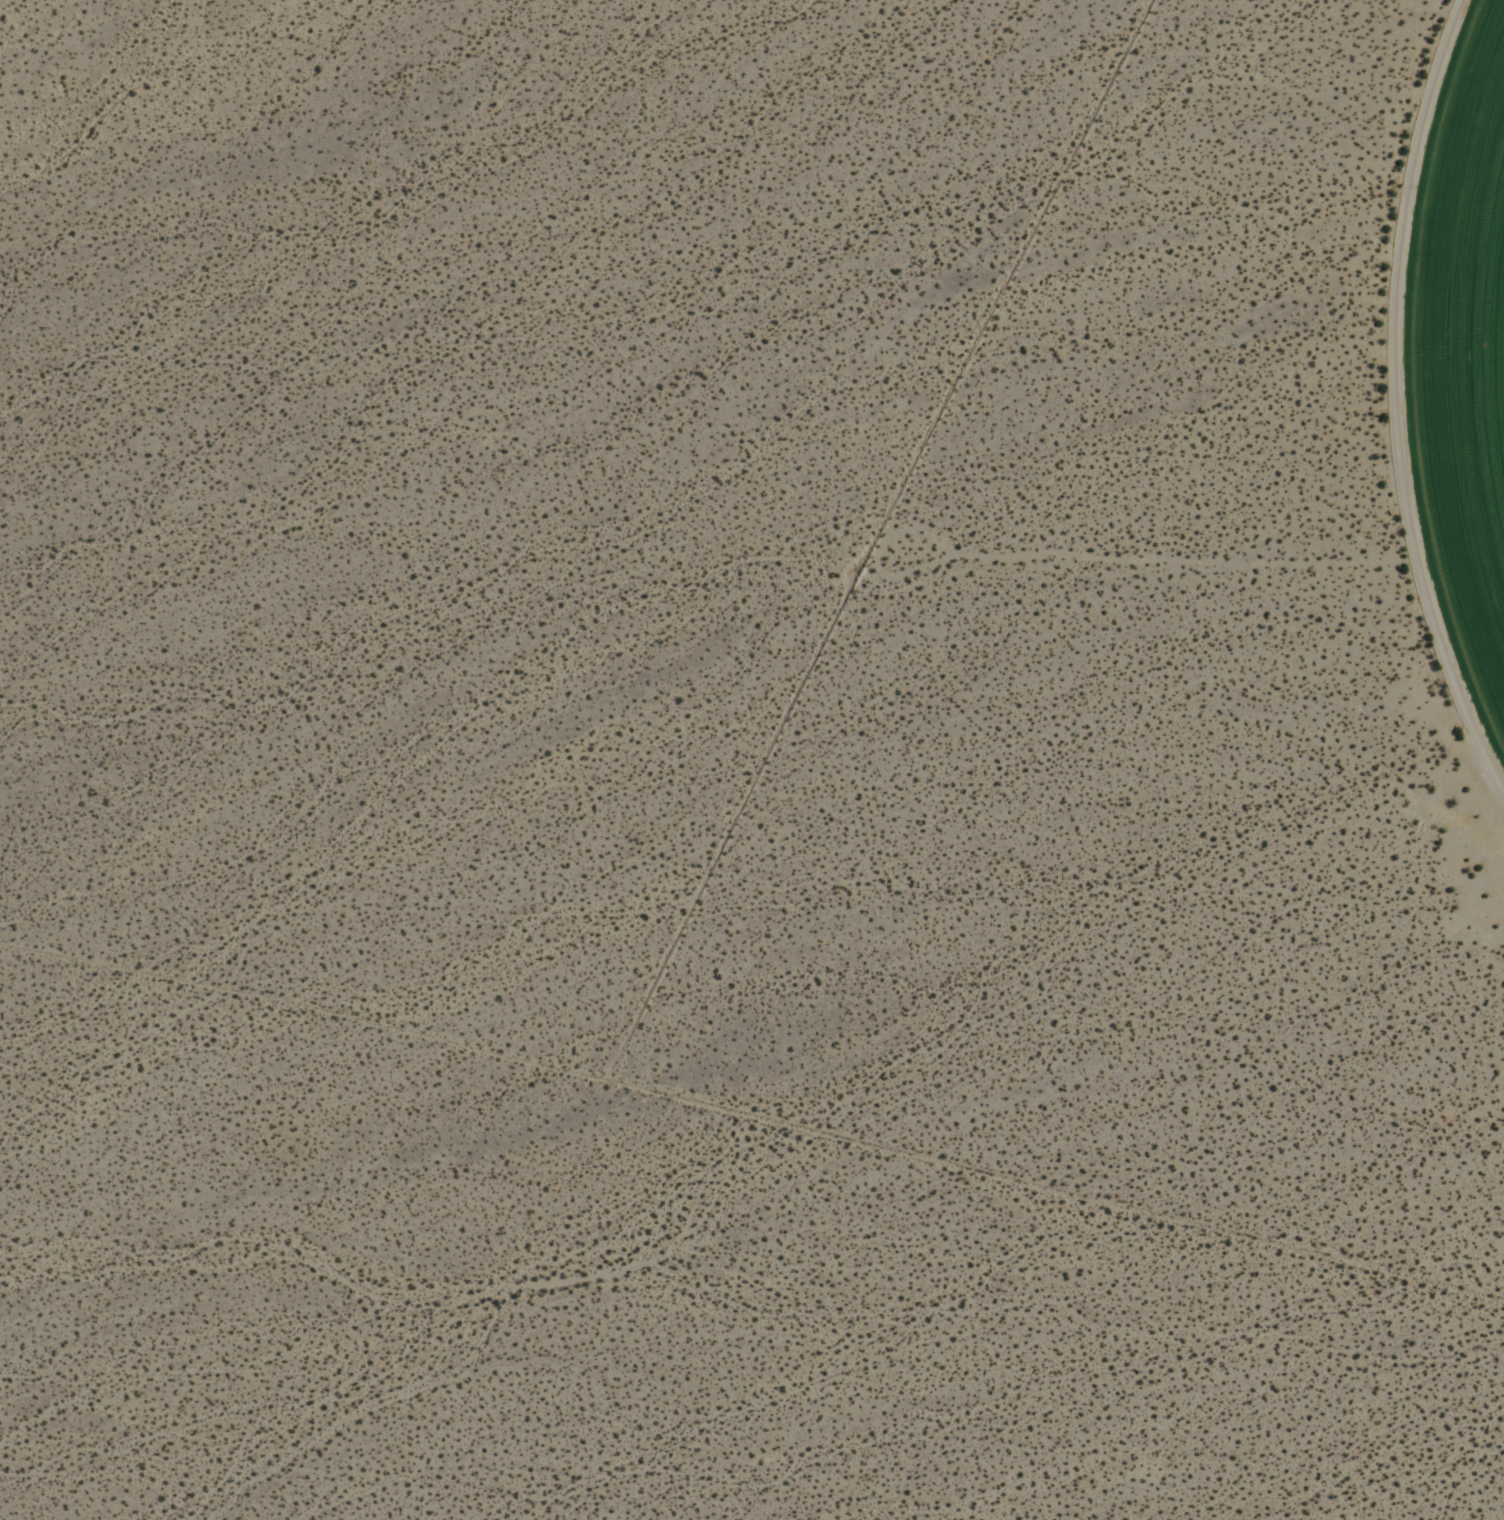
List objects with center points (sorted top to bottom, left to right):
crop: (1448, 371)

